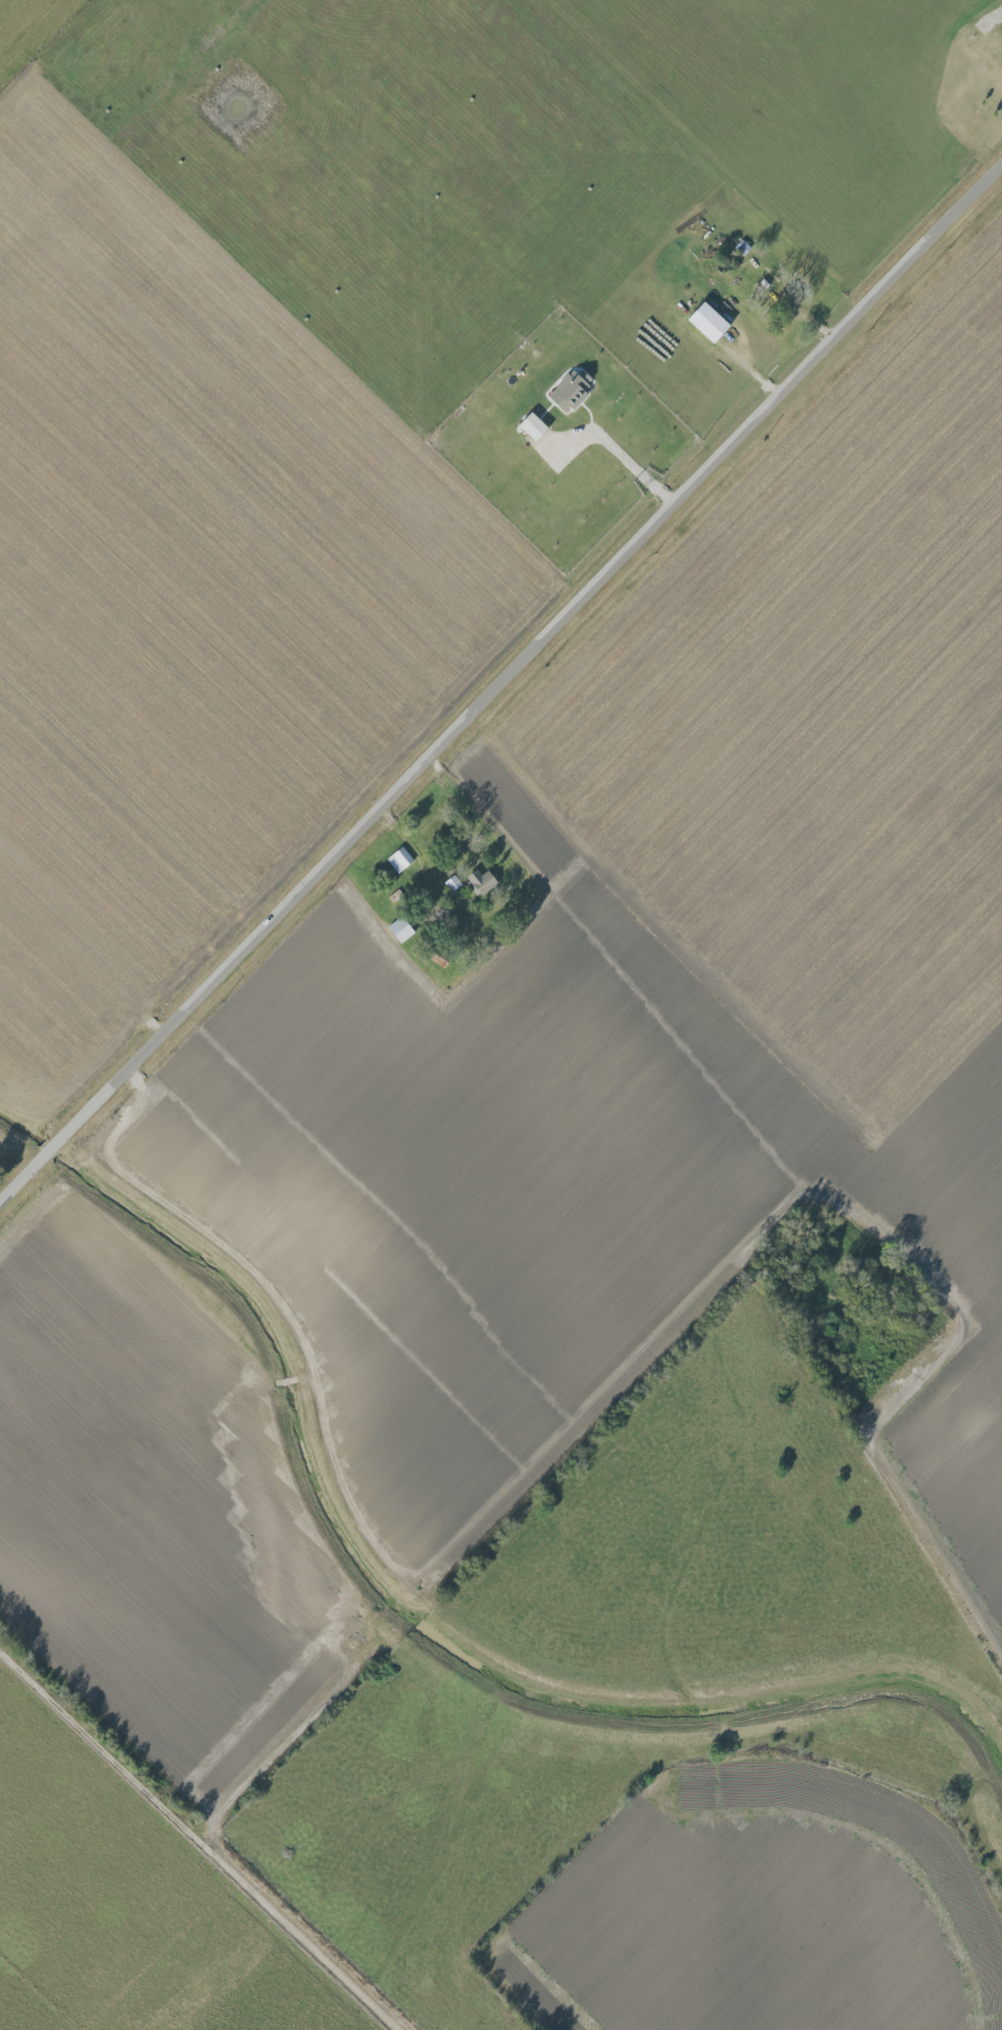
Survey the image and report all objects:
building: (997, 39)
building: (708, 322)
building: (570, 390)
building: (533, 426)
road: (634, 462)
road: (500, 682)
building: (400, 859)
building: (480, 882)
building: (453, 883)
building: (400, 929)
road: (196, 1839)

